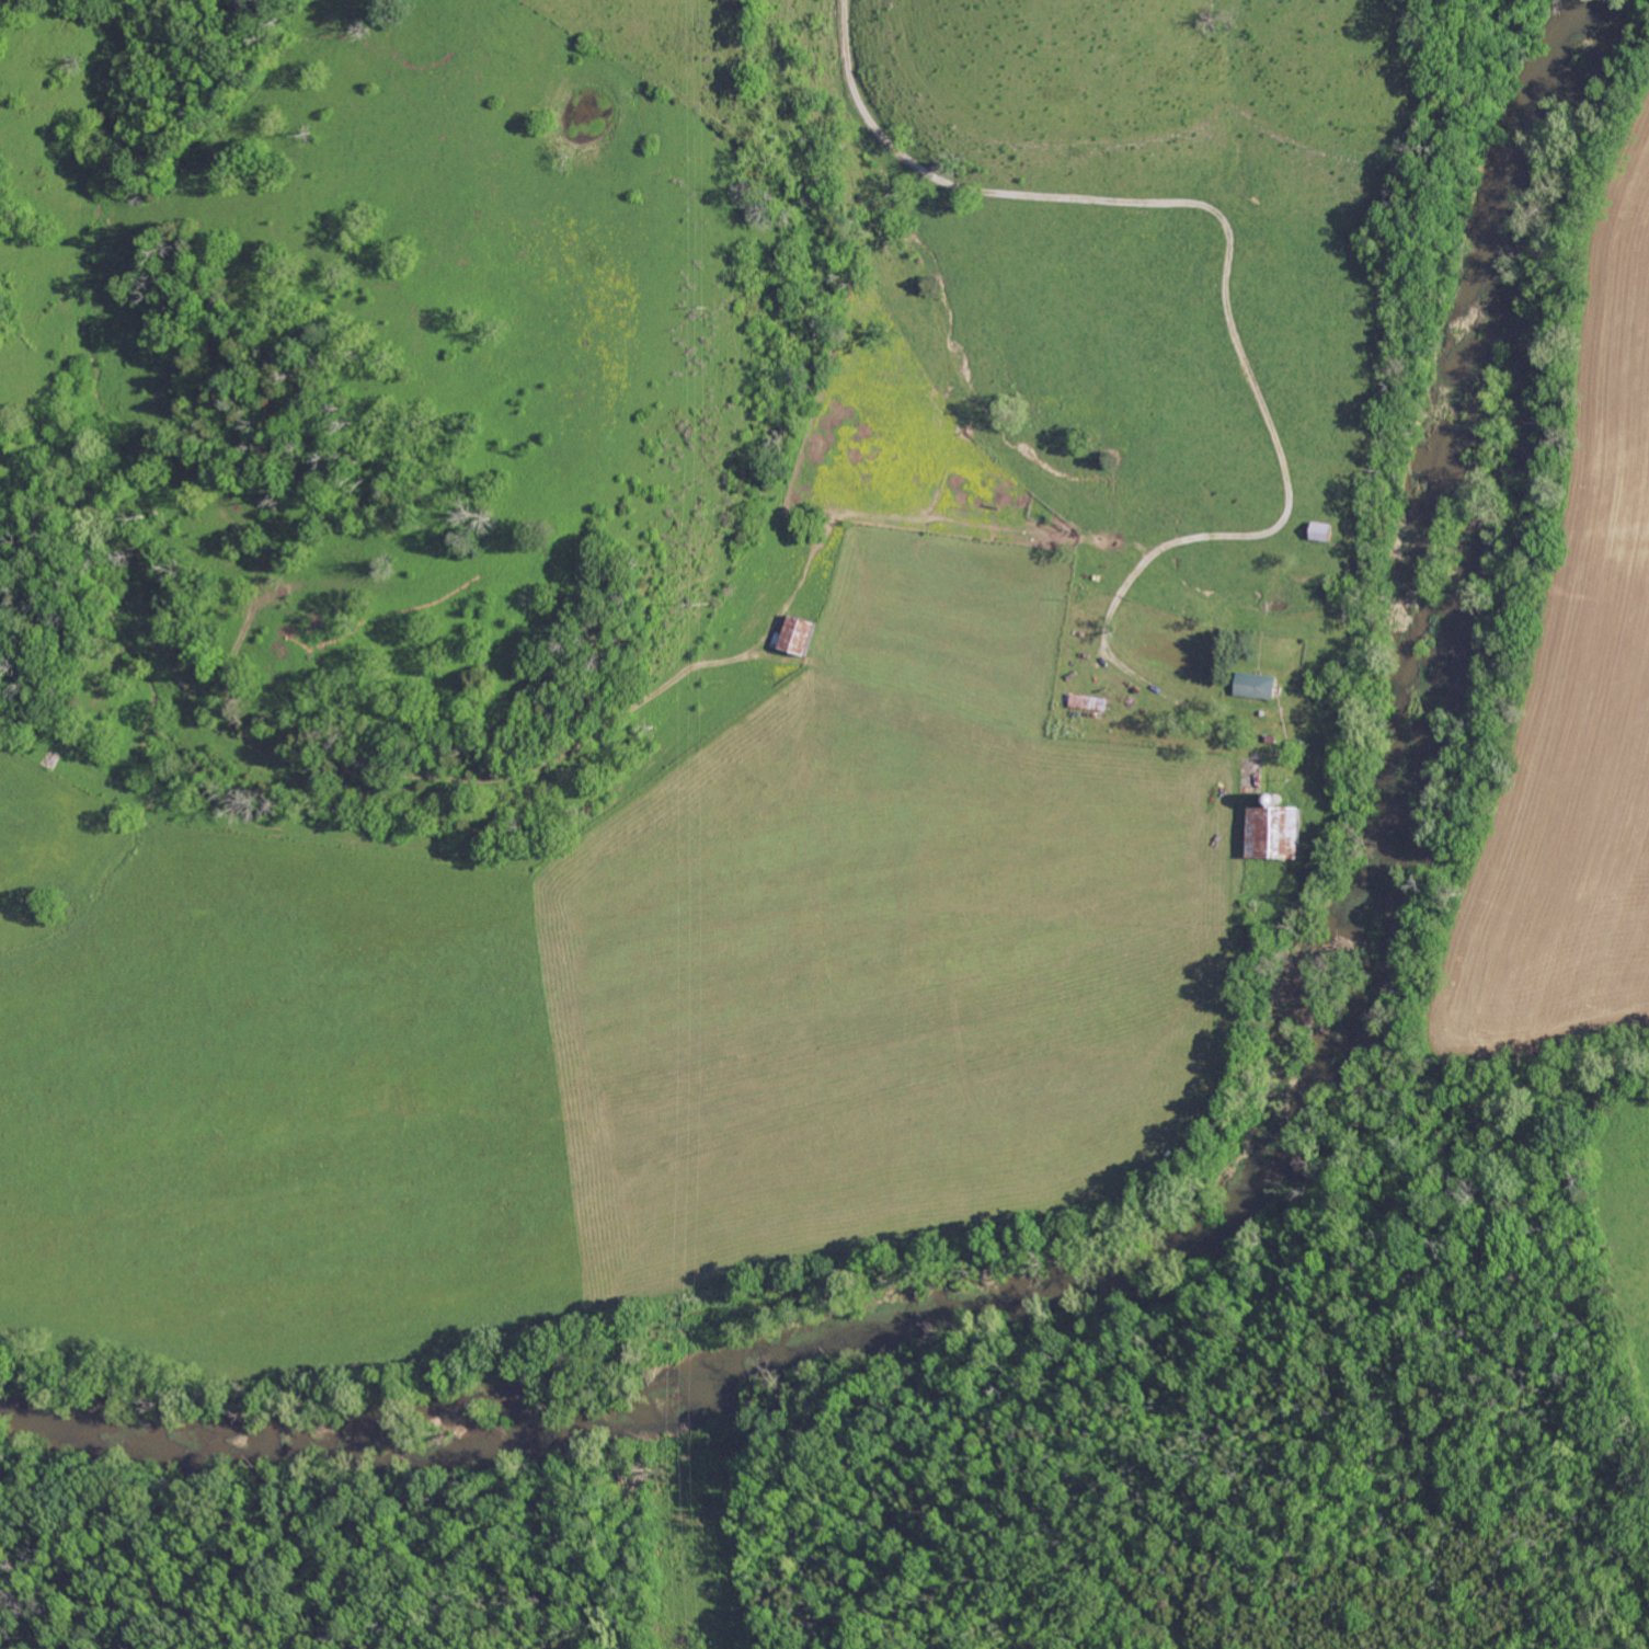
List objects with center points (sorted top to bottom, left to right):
road: (1223, 289)
building: (1317, 530)
building: (788, 633)
building: (1252, 685)
building: (1268, 832)
river: (1234, 1207)

